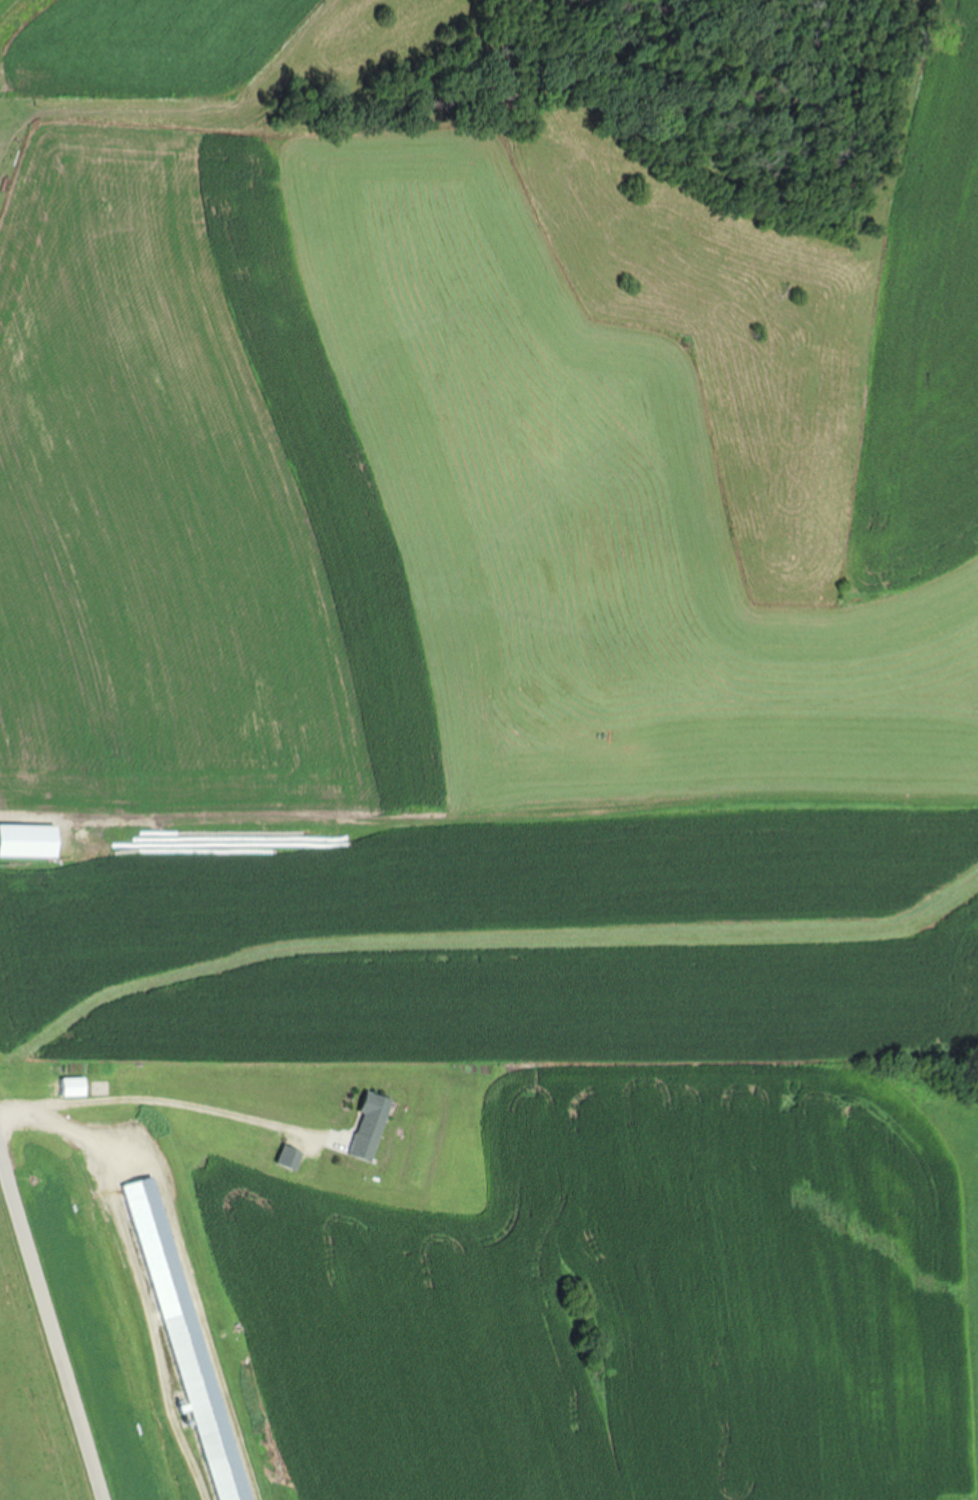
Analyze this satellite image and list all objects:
building: (72, 1085)
road: (163, 1102)
building: (369, 1125)
road: (48, 1331)
building: (187, 1339)

